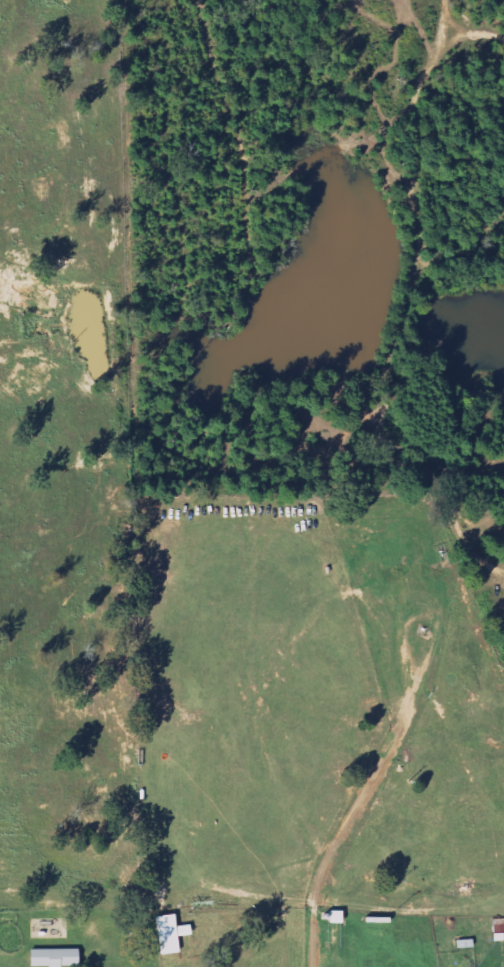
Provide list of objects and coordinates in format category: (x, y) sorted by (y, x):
building: (498, 925)
building: (167, 934)
building: (497, 936)
building: (59, 957)

